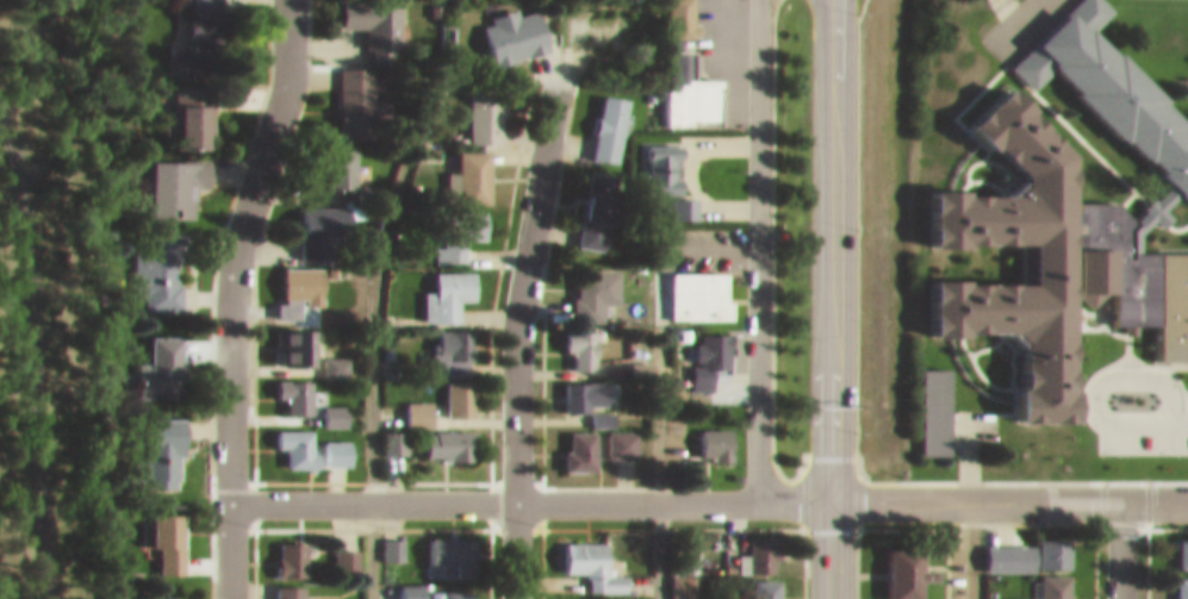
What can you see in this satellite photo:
building: (676, 13)
building: (360, 23)
building: (506, 25)
building: (209, 35)
building: (683, 81)
building: (350, 93)
building: (478, 101)
building: (195, 106)
building: (602, 117)
building: (896, 137)
building: (330, 155)
building: (658, 157)
building: (466, 166)
building: (182, 176)
building: (678, 196)
building: (587, 198)
building: (315, 219)
building: (450, 223)
road: (757, 247)
building: (163, 258)
building: (293, 281)
building: (586, 281)
building: (441, 285)
building: (692, 286)
road: (230, 295)
park: (49, 299)
road: (829, 299)
road: (663, 320)
road: (369, 332)
road: (516, 336)
building: (572, 337)
building: (446, 341)
building: (299, 342)
road: (32, 349)
building: (702, 350)
building: (168, 357)
building: (583, 385)
building: (287, 386)
building: (437, 397)
building: (325, 406)
building: (597, 408)
building: (387, 432)
building: (615, 433)
building: (440, 435)
building: (708, 435)
building: (288, 437)
building: (571, 441)
building: (162, 442)
building: (329, 442)
road: (1008, 493)
road: (529, 494)
building: (173, 534)
building: (388, 537)
building: (1047, 543)
building: (1180, 543)
building: (754, 545)
road: (962, 545)
road: (1120, 545)
building: (443, 547)
road: (655, 547)
building: (996, 547)
building: (285, 549)
building: (338, 550)
building: (585, 555)
building: (895, 566)
building: (676, 575)
building: (1049, 580)
building: (1178, 582)
building: (758, 584)
building: (281, 586)
building: (449, 589)
building: (167, 592)
building: (1015, 593)
building: (574, 594)

